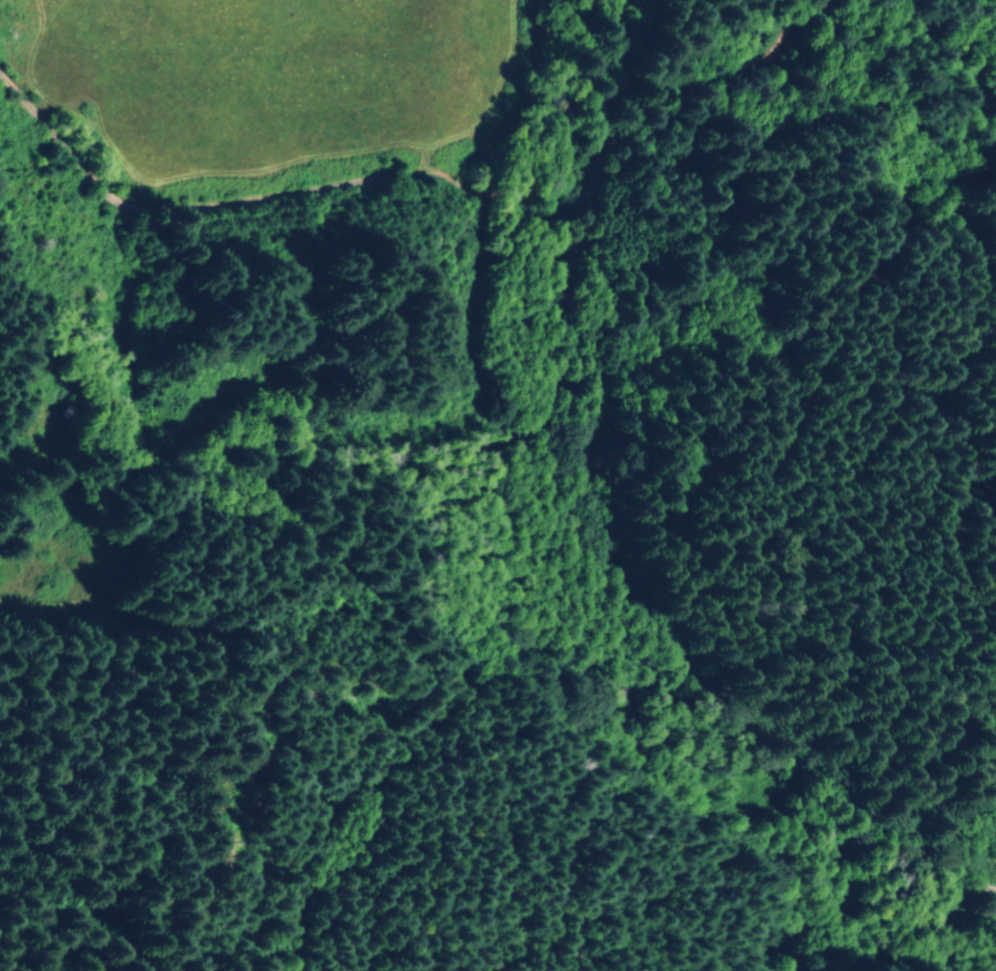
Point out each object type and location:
road: (236, 157)
road: (625, 473)
road: (981, 854)
road: (833, 898)

